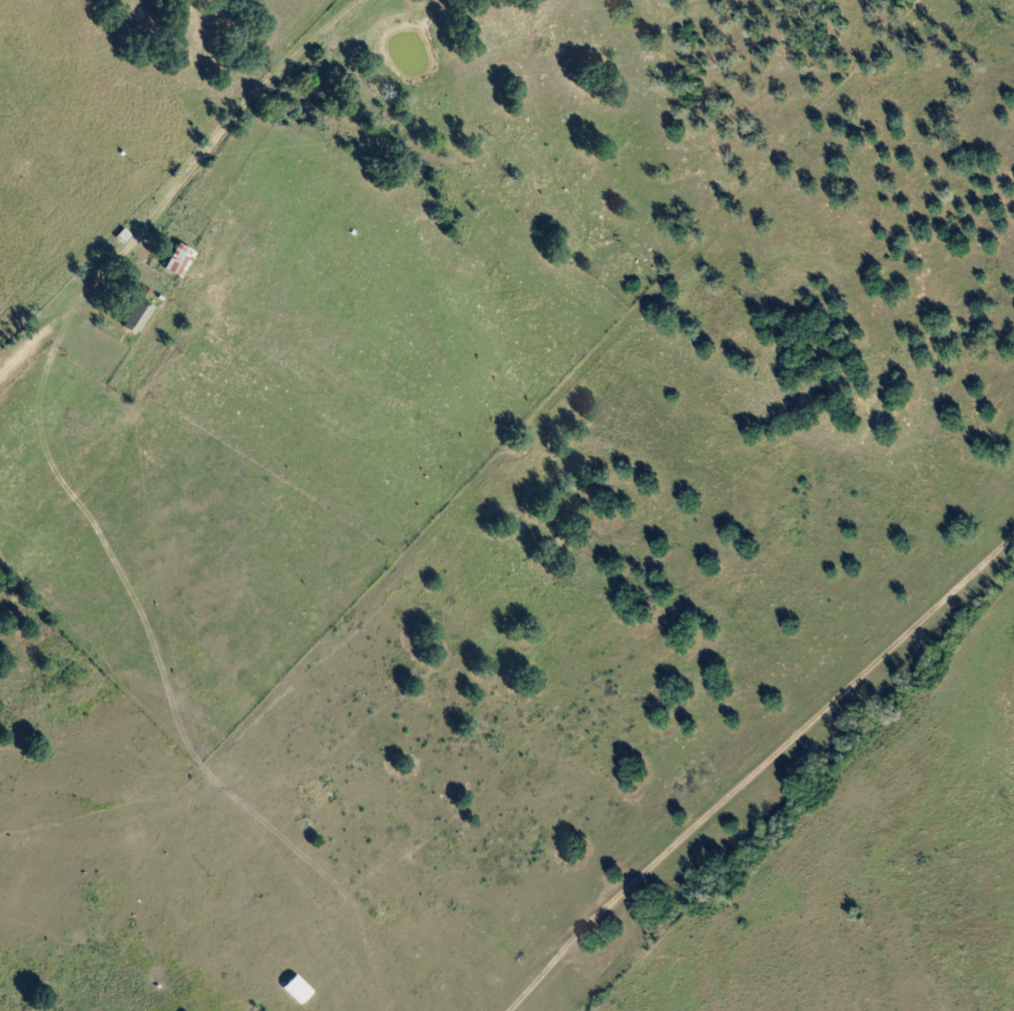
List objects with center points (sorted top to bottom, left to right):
road: (188, 174)
building: (177, 261)
building: (136, 316)

